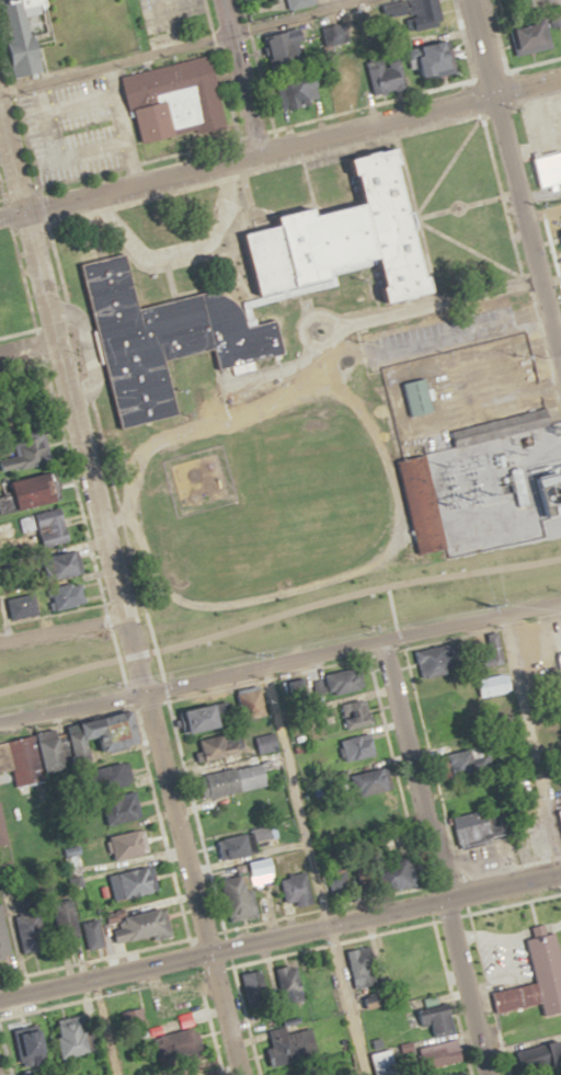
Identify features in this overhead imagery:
building: (294, 3)
building: (535, 3)
building: (533, 34)
building: (19, 35)
road: (179, 45)
building: (279, 45)
building: (426, 60)
building: (381, 73)
road: (238, 75)
building: (343, 85)
building: (295, 94)
building: (169, 101)
road: (280, 144)
road: (447, 167)
building: (546, 169)
road: (408, 176)
road: (516, 180)
road: (64, 217)
building: (560, 219)
road: (431, 227)
building: (332, 235)
building: (559, 237)
road: (125, 252)
road: (182, 252)
building: (1, 263)
road: (237, 272)
building: (0, 276)
road: (299, 289)
building: (8, 317)
building: (162, 339)
road: (26, 343)
building: (413, 397)
building: (37, 489)
building: (51, 525)
road: (366, 564)
road: (112, 594)
building: (66, 595)
road: (553, 620)
road: (58, 621)
road: (280, 662)
building: (439, 665)
building: (554, 674)
building: (341, 681)
building: (253, 702)
building: (350, 708)
building: (210, 716)
road: (531, 735)
building: (266, 743)
building: (220, 745)
building: (467, 759)
building: (118, 775)
building: (234, 780)
building: (122, 809)
building: (480, 825)
building: (240, 843)
building: (128, 845)
road: (435, 857)
road: (313, 870)
building: (134, 882)
building: (297, 889)
building: (241, 897)
building: (68, 920)
building: (31, 922)
building: (141, 924)
building: (94, 933)
road: (279, 936)
building: (362, 967)
building: (289, 983)
building: (523, 996)
building: (436, 1015)
building: (137, 1023)
road: (104, 1027)
building: (75, 1037)
building: (33, 1044)
building: (542, 1055)

